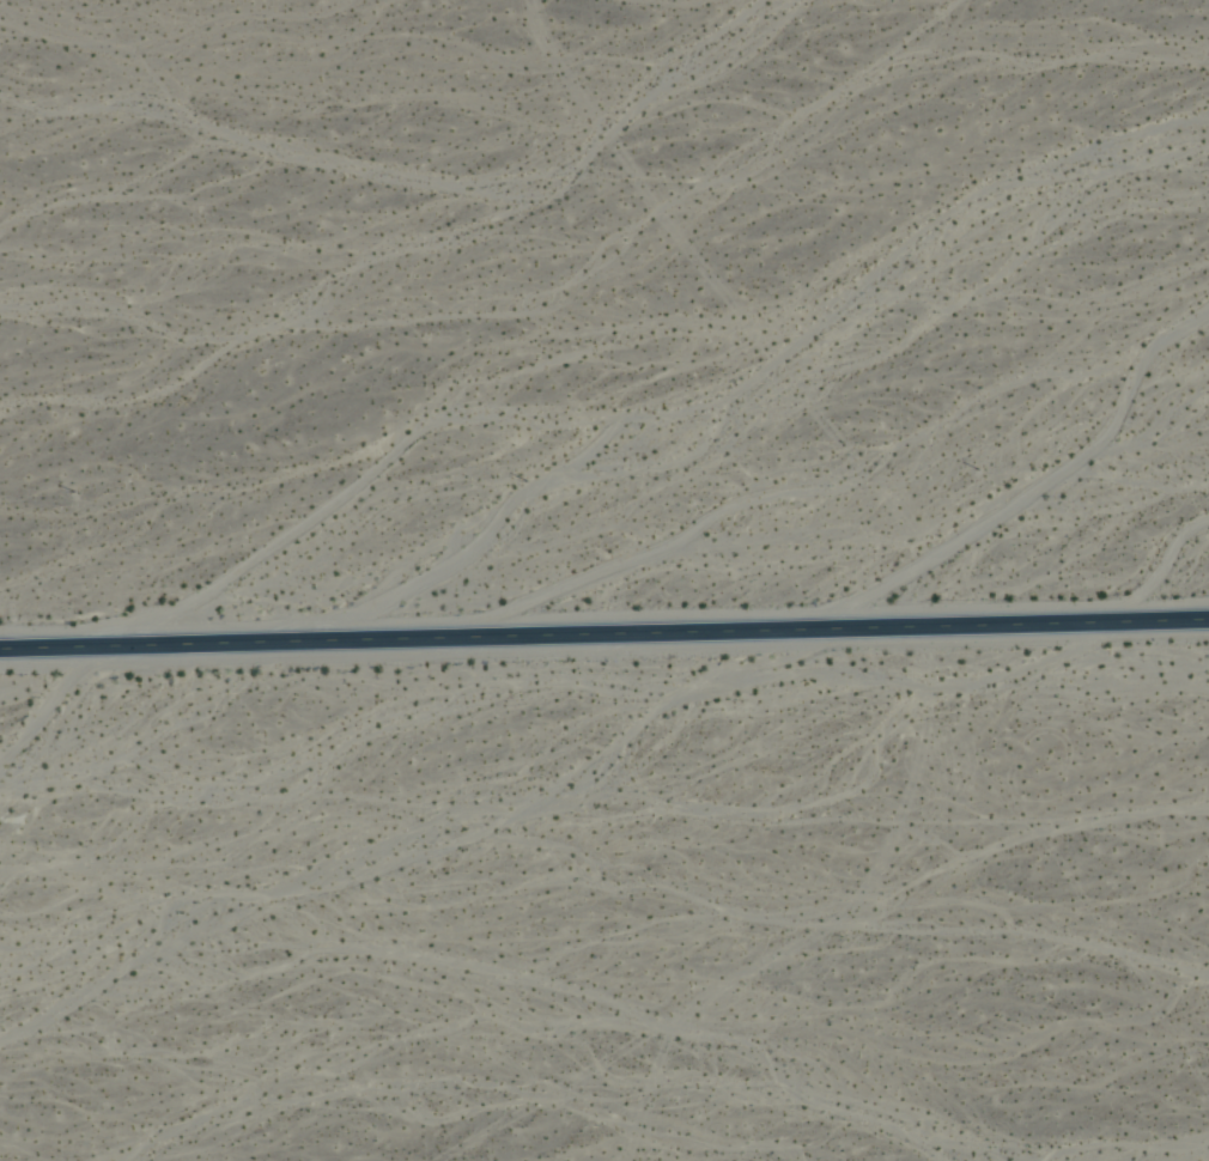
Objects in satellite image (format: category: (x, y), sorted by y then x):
road: (604, 633)

